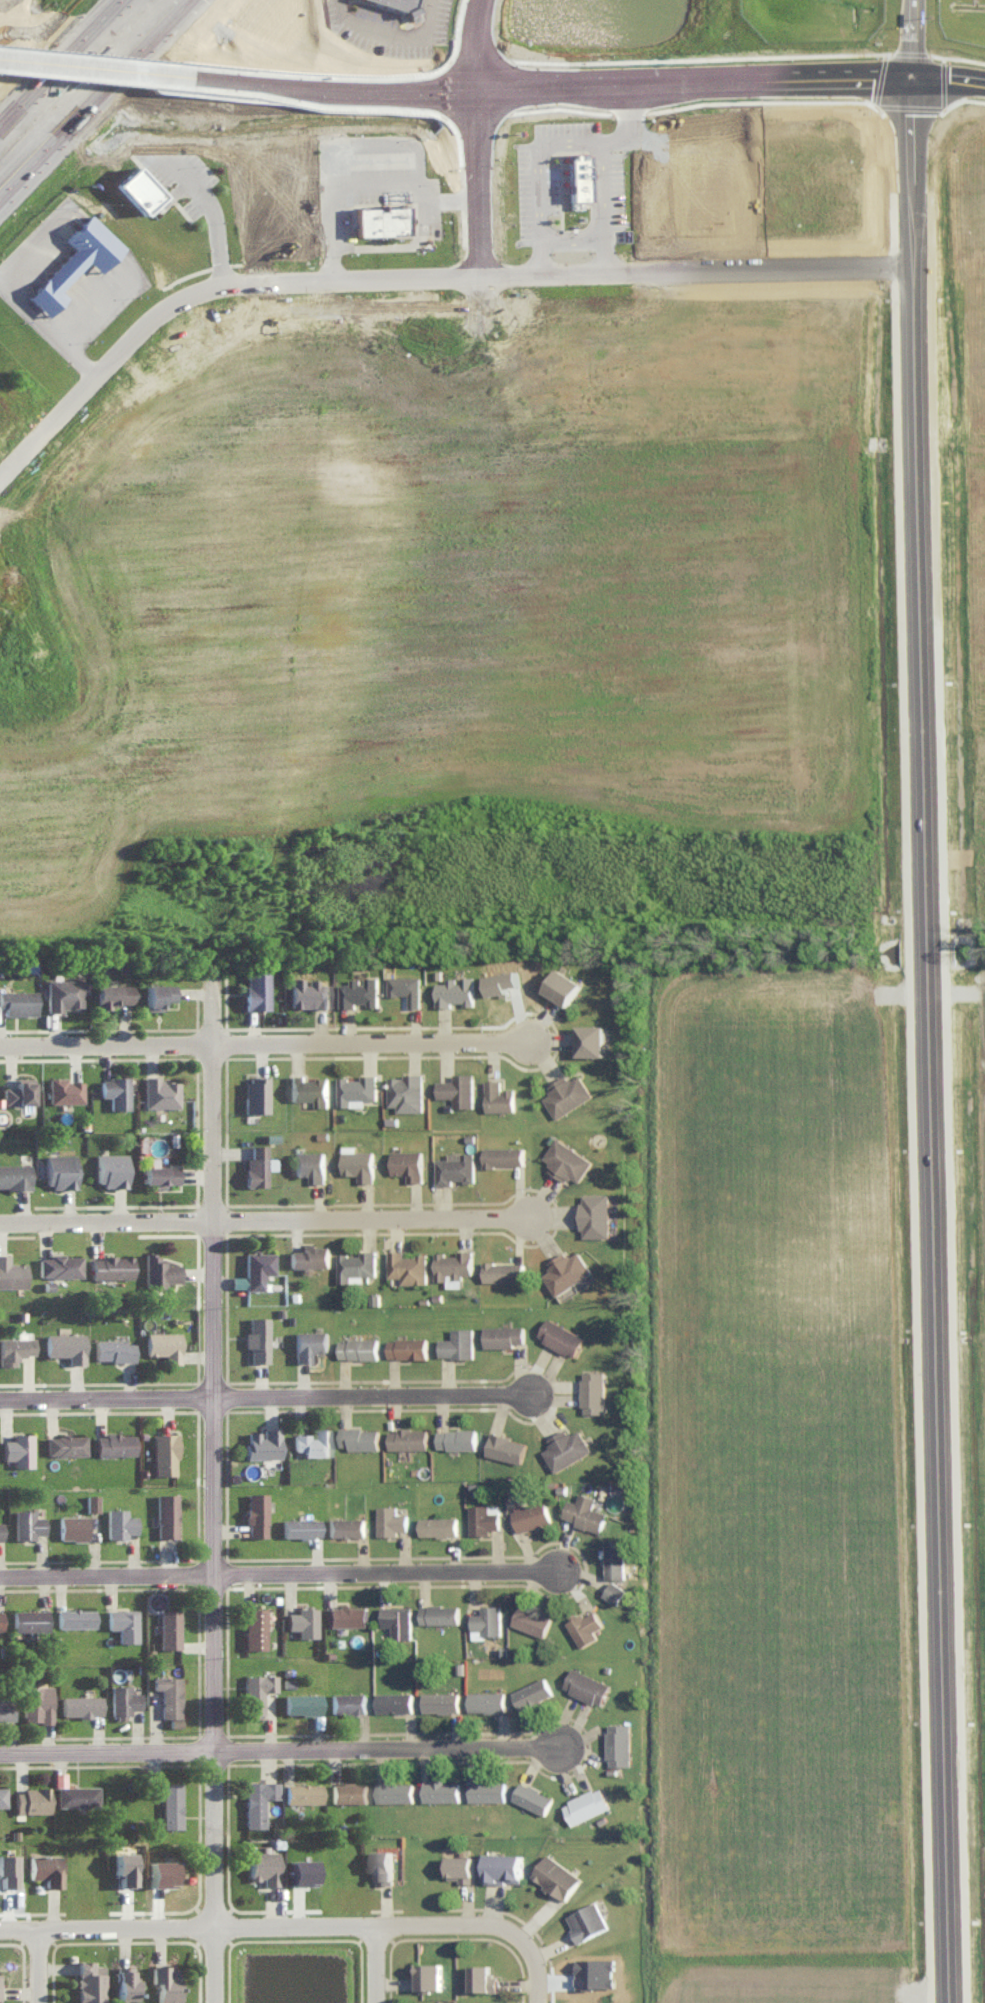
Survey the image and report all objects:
building: (413, 4)
road: (912, 5)
parking lot: (343, 8)
parking lot: (447, 17)
road: (401, 29)
parking lot: (396, 35)
road: (473, 42)
road: (909, 42)
road: (60, 63)
road: (80, 65)
road: (946, 74)
road: (785, 76)
road: (239, 80)
road: (569, 83)
road: (396, 87)
road: (93, 98)
parking lot: (576, 124)
road: (554, 139)
road: (909, 143)
parking lot: (389, 157)
parking lot: (187, 161)
building: (588, 174)
road: (476, 177)
building: (578, 177)
parking lot: (538, 182)
parking lot: (558, 182)
parking lot: (624, 186)
building: (146, 187)
road: (409, 193)
road: (613, 199)
road: (342, 200)
parking lot: (440, 200)
road: (603, 207)
building: (389, 216)
road: (582, 235)
road: (228, 236)
building: (86, 257)
road: (414, 269)
road: (93, 305)
road: (27, 309)
building: (564, 986)
building: (256, 988)
building: (406, 988)
building: (455, 990)
building: (359, 991)
building: (64, 993)
building: (307, 993)
building: (113, 994)
building: (158, 994)
building: (18, 1001)
building: (592, 1040)
road: (264, 1042)
building: (64, 1089)
building: (309, 1089)
building: (457, 1089)
building: (356, 1090)
building: (18, 1091)
building: (115, 1091)
building: (159, 1092)
building: (405, 1092)
building: (256, 1094)
building: (566, 1094)
building: (498, 1096)
road: (929, 1108)
building: (503, 1156)
building: (567, 1160)
building: (358, 1163)
building: (407, 1163)
building: (310, 1164)
building: (257, 1165)
building: (455, 1167)
building: (111, 1168)
building: (60, 1170)
building: (159, 1174)
building: (14, 1175)
building: (594, 1214)
road: (262, 1219)
building: (310, 1256)
building: (59, 1265)
building: (356, 1265)
building: (111, 1266)
building: (407, 1266)
building: (453, 1266)
building: (257, 1268)
building: (159, 1271)
building: (503, 1271)
building: (566, 1271)
building: (11, 1273)
building: (237, 1281)
building: (503, 1334)
building: (560, 1336)
building: (257, 1338)
building: (309, 1342)
building: (458, 1342)
building: (163, 1345)
building: (66, 1346)
building: (407, 1346)
building: (358, 1347)
building: (14, 1348)
building: (113, 1349)
building: (593, 1390)
road: (265, 1397)
building: (359, 1437)
building: (408, 1437)
building: (457, 1437)
building: (312, 1441)
building: (114, 1442)
building: (262, 1442)
building: (65, 1443)
building: (506, 1446)
building: (565, 1447)
building: (18, 1448)
building: (164, 1452)
road: (211, 1487)
building: (91, 1501)
building: (584, 1511)
building: (255, 1513)
building: (166, 1514)
building: (530, 1514)
building: (483, 1517)
building: (390, 1519)
building: (119, 1522)
building: (26, 1523)
building: (438, 1525)
building: (72, 1526)
building: (300, 1526)
building: (346, 1526)
building: (0, 1530)
building: (614, 1556)
road: (275, 1575)
building: (614, 1591)
building: (439, 1612)
building: (346, 1614)
building: (75, 1616)
building: (28, 1619)
building: (398, 1619)
building: (531, 1619)
building: (0, 1620)
building: (302, 1620)
building: (486, 1620)
building: (123, 1622)
building: (254, 1626)
building: (584, 1626)
building: (168, 1627)
building: (586, 1685)
building: (256, 1691)
building: (532, 1691)
building: (169, 1693)
building: (122, 1698)
building: (440, 1700)
building: (487, 1700)
building: (394, 1701)
building: (36, 1702)
building: (301, 1702)
building: (348, 1702)
building: (80, 1704)
building: (6, 1708)
road: (284, 1743)
building: (618, 1743)
building: (395, 1790)
building: (441, 1790)
building: (487, 1790)
building: (348, 1791)
building: (302, 1792)
building: (76, 1794)
building: (2, 1795)
building: (532, 1797)
building: (31, 1799)
building: (257, 1800)
building: (170, 1804)
building: (586, 1804)
building: (383, 1865)
building: (124, 1866)
building: (263, 1866)
building: (504, 1866)
building: (45, 1867)
building: (461, 1867)
building: (6, 1869)
building: (302, 1870)
building: (161, 1872)
building: (556, 1876)
road: (417, 1917)
building: (587, 1920)
road: (112, 1921)
road: (385, 1960)
road: (49, 1962)
building: (595, 1971)
building: (428, 1974)
building: (482, 1977)
building: (89, 1980)
building: (125, 1982)
building: (166, 1982)
building: (479, 2001)

